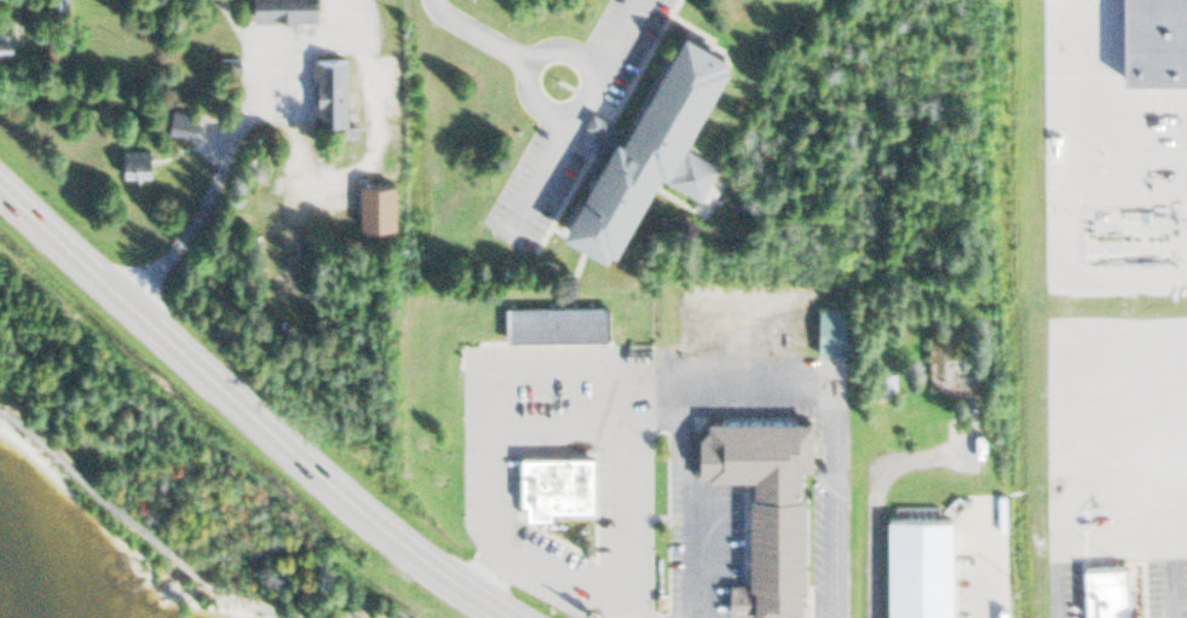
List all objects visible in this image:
building: (284, 10)
road: (479, 33)
road: (612, 36)
building: (1157, 39)
building: (6, 40)
building: (329, 91)
road: (560, 112)
building: (655, 143)
building: (136, 162)
road: (542, 169)
parking lot: (1116, 187)
road: (1060, 191)
road: (1128, 191)
building: (376, 204)
road: (1186, 248)
building: (551, 322)
building: (828, 328)
building: (943, 358)
road: (565, 372)
road: (818, 400)
road: (246, 411)
road: (553, 424)
park: (156, 478)
building: (555, 484)
road: (682, 495)
building: (764, 503)
road: (149, 537)
building: (918, 559)
road: (553, 579)
building: (1110, 590)

